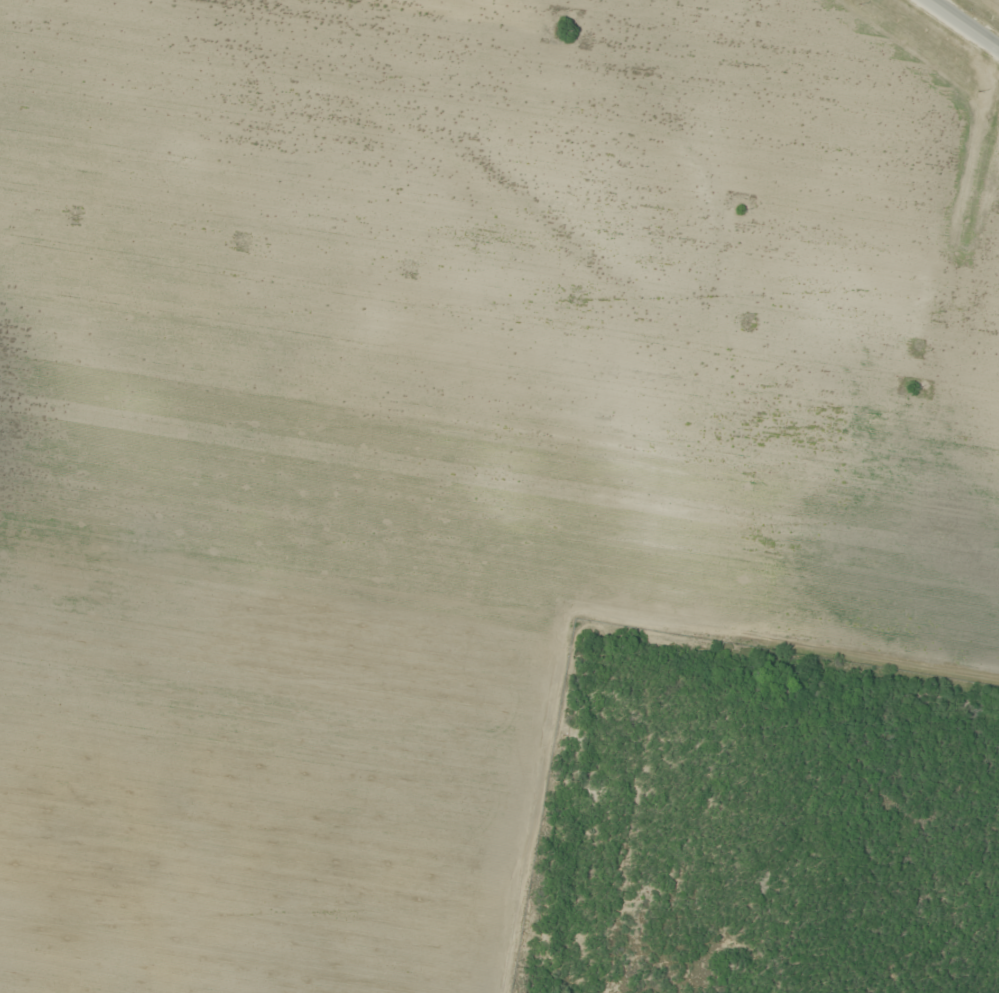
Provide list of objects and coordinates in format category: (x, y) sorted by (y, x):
road: (965, 23)

